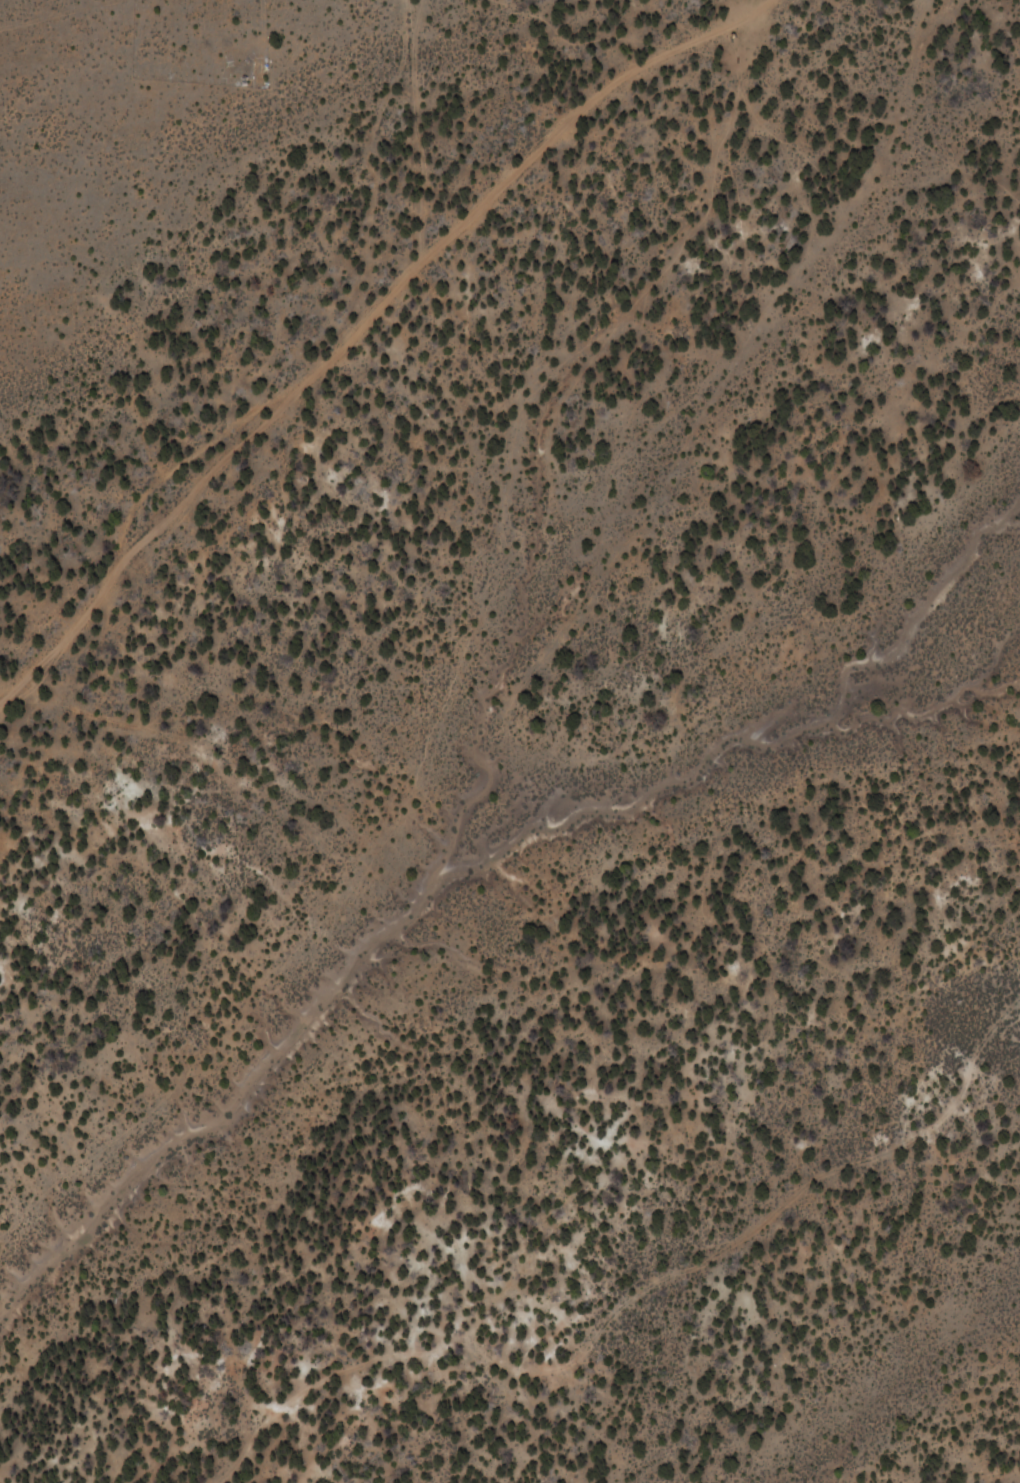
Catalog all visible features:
road: (360, 322)

